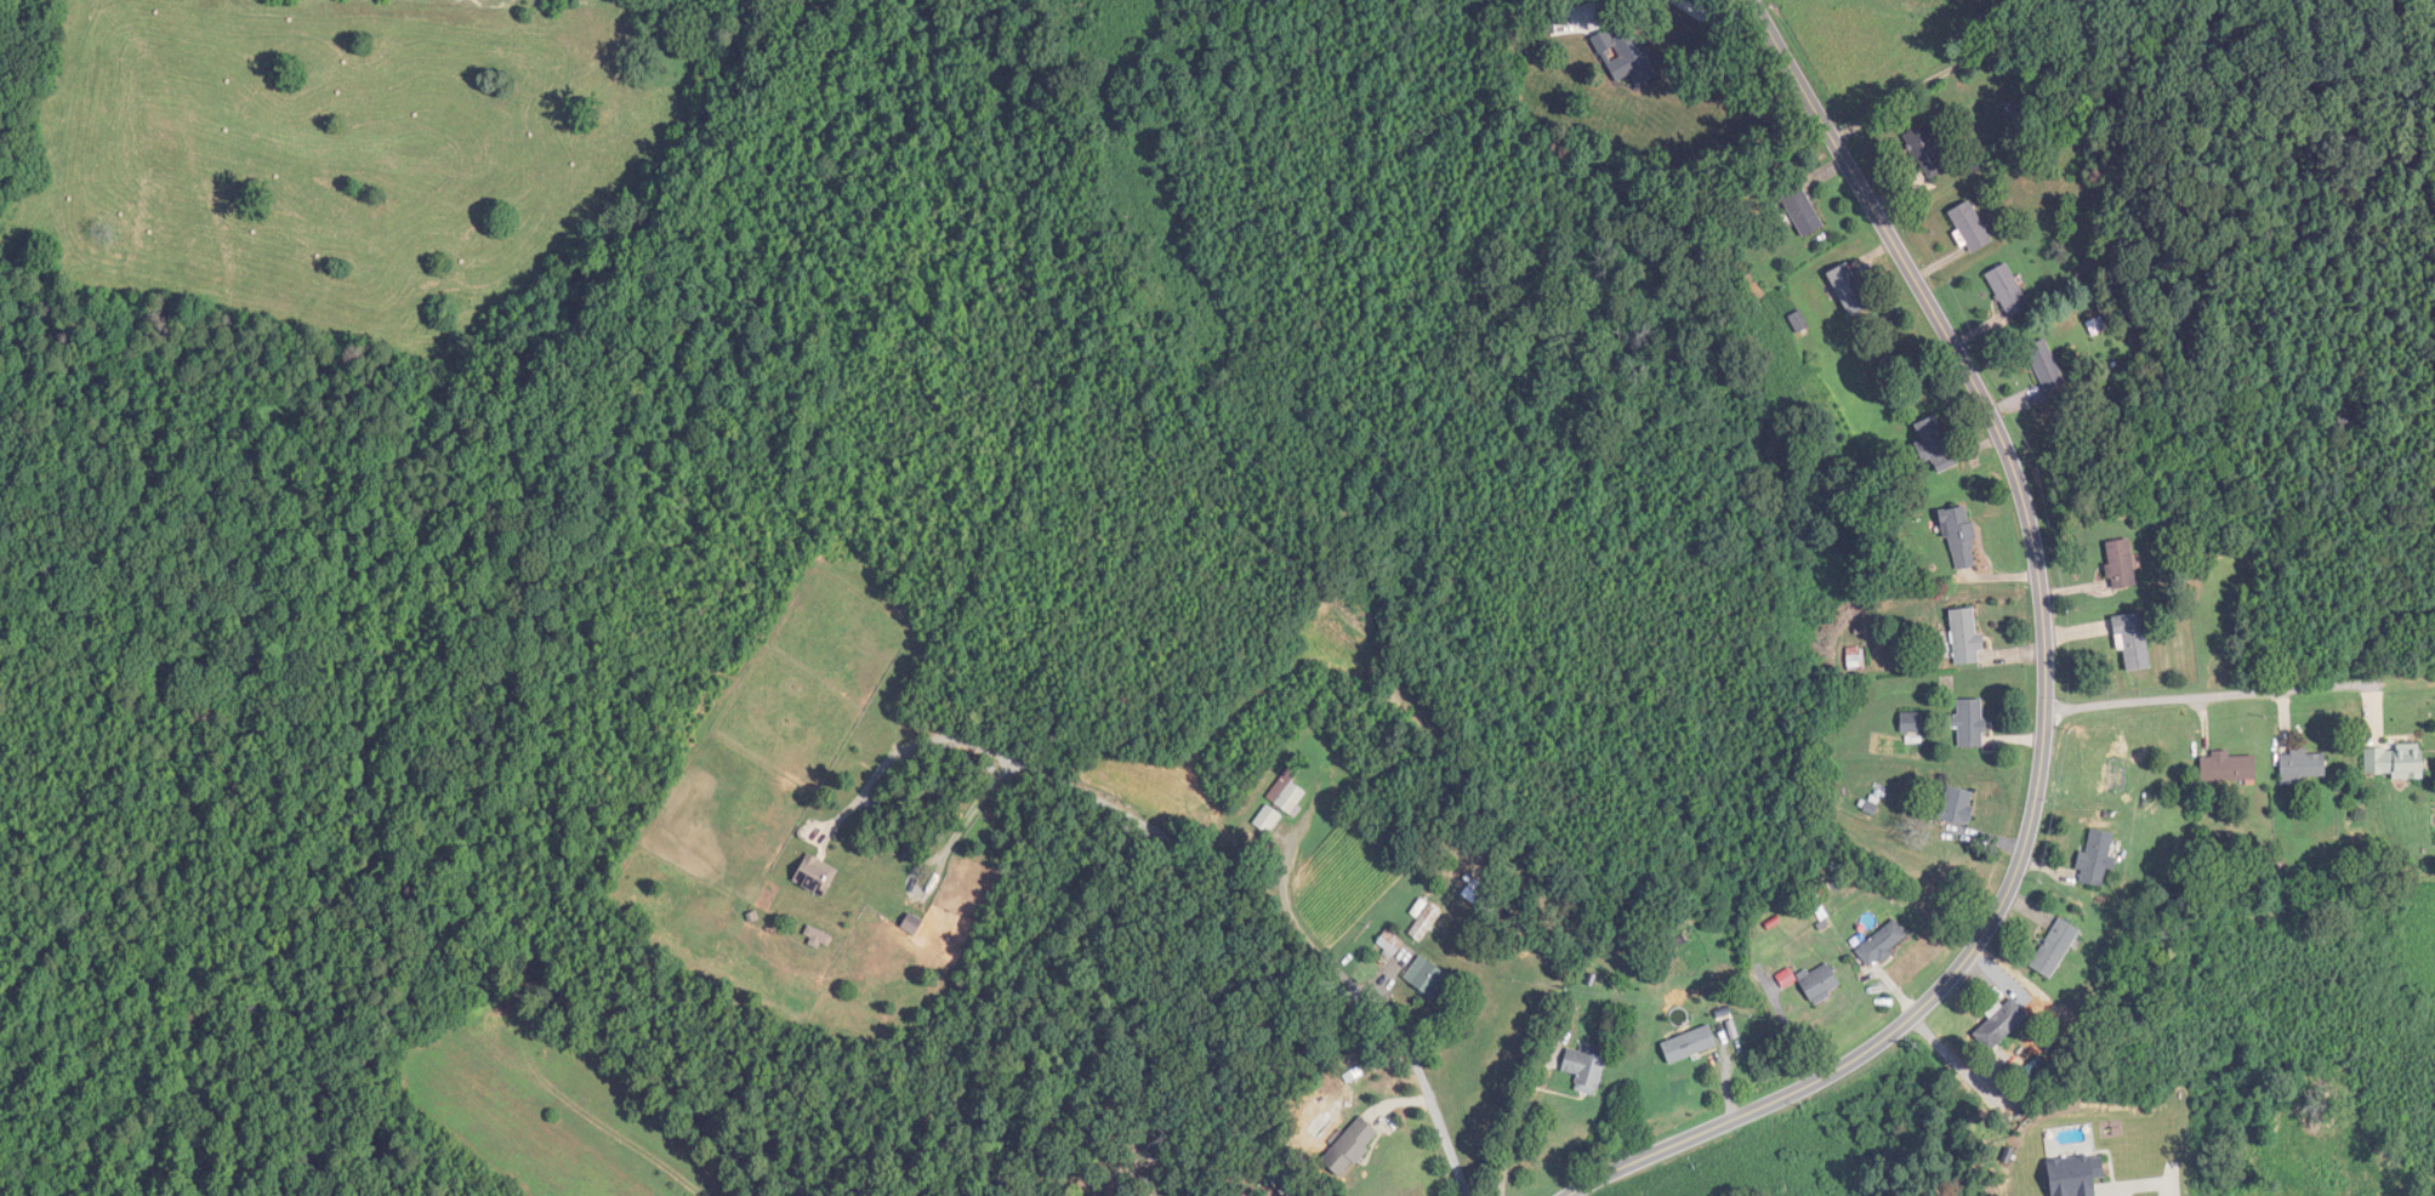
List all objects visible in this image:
road: (2009, 10)
road: (1592, 12)
road: (2026, 13)
road: (1716, 17)
building: (1626, 57)
road: (1924, 82)
building: (1927, 152)
building: (1803, 211)
building: (1970, 227)
building: (1849, 290)
building: (2008, 290)
building: (2046, 365)
building: (1935, 444)
building: (1961, 539)
building: (2121, 565)
building: (1967, 637)
building: (2133, 640)
building: (1855, 659)
road: (2046, 688)
road: (2223, 693)
building: (1911, 723)
building: (1970, 723)
building: (2395, 762)
building: (2303, 767)
building: (2229, 768)
building: (1288, 791)
road: (1102, 802)
building: (1957, 807)
building: (1268, 819)
building: (2098, 856)
building: (817, 876)
building: (1473, 888)
building: (1426, 923)
building: (914, 924)
building: (1883, 944)
building: (2055, 949)
building: (1428, 979)
building: (1820, 983)
road: (1364, 992)
building: (1999, 1026)
building: (1690, 1046)
building: (1586, 1071)
road: (1512, 1127)
building: (1352, 1147)

